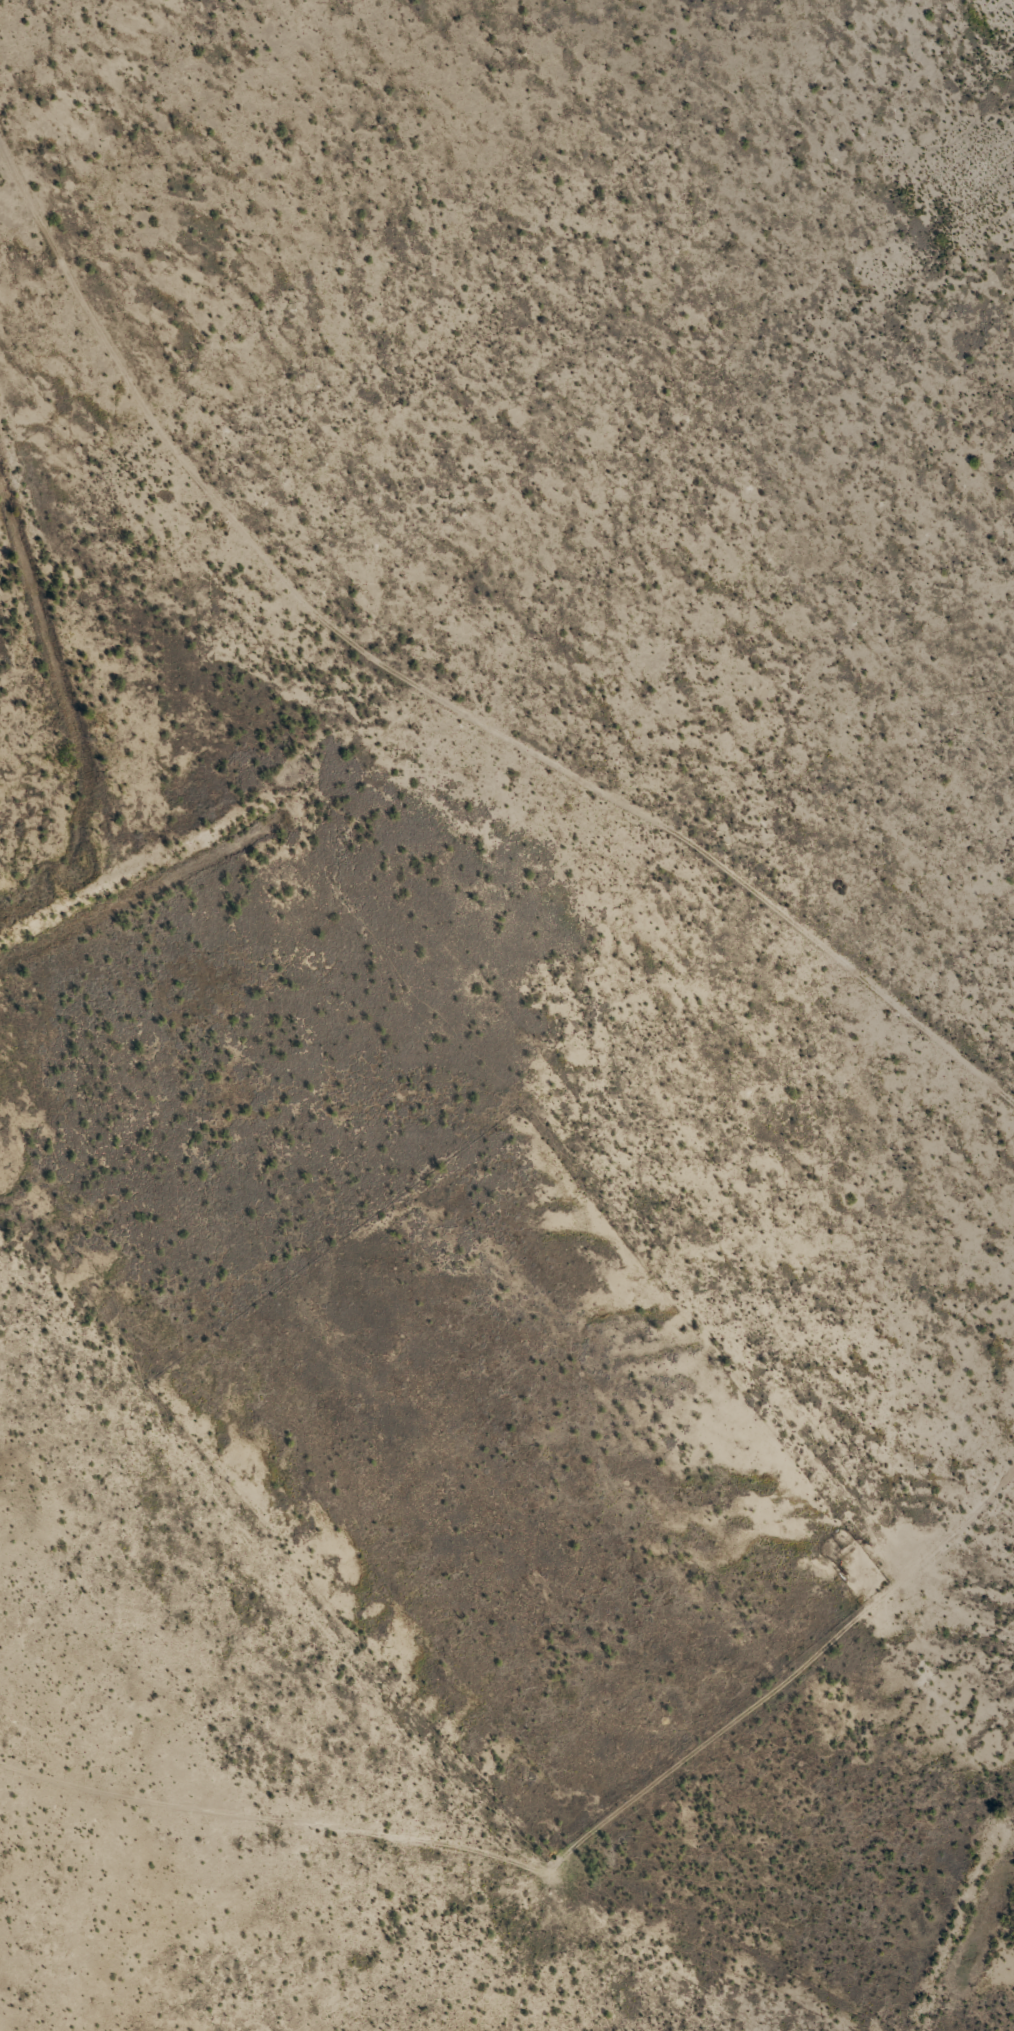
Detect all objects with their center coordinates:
road: (440, 677)
road: (725, 1764)

